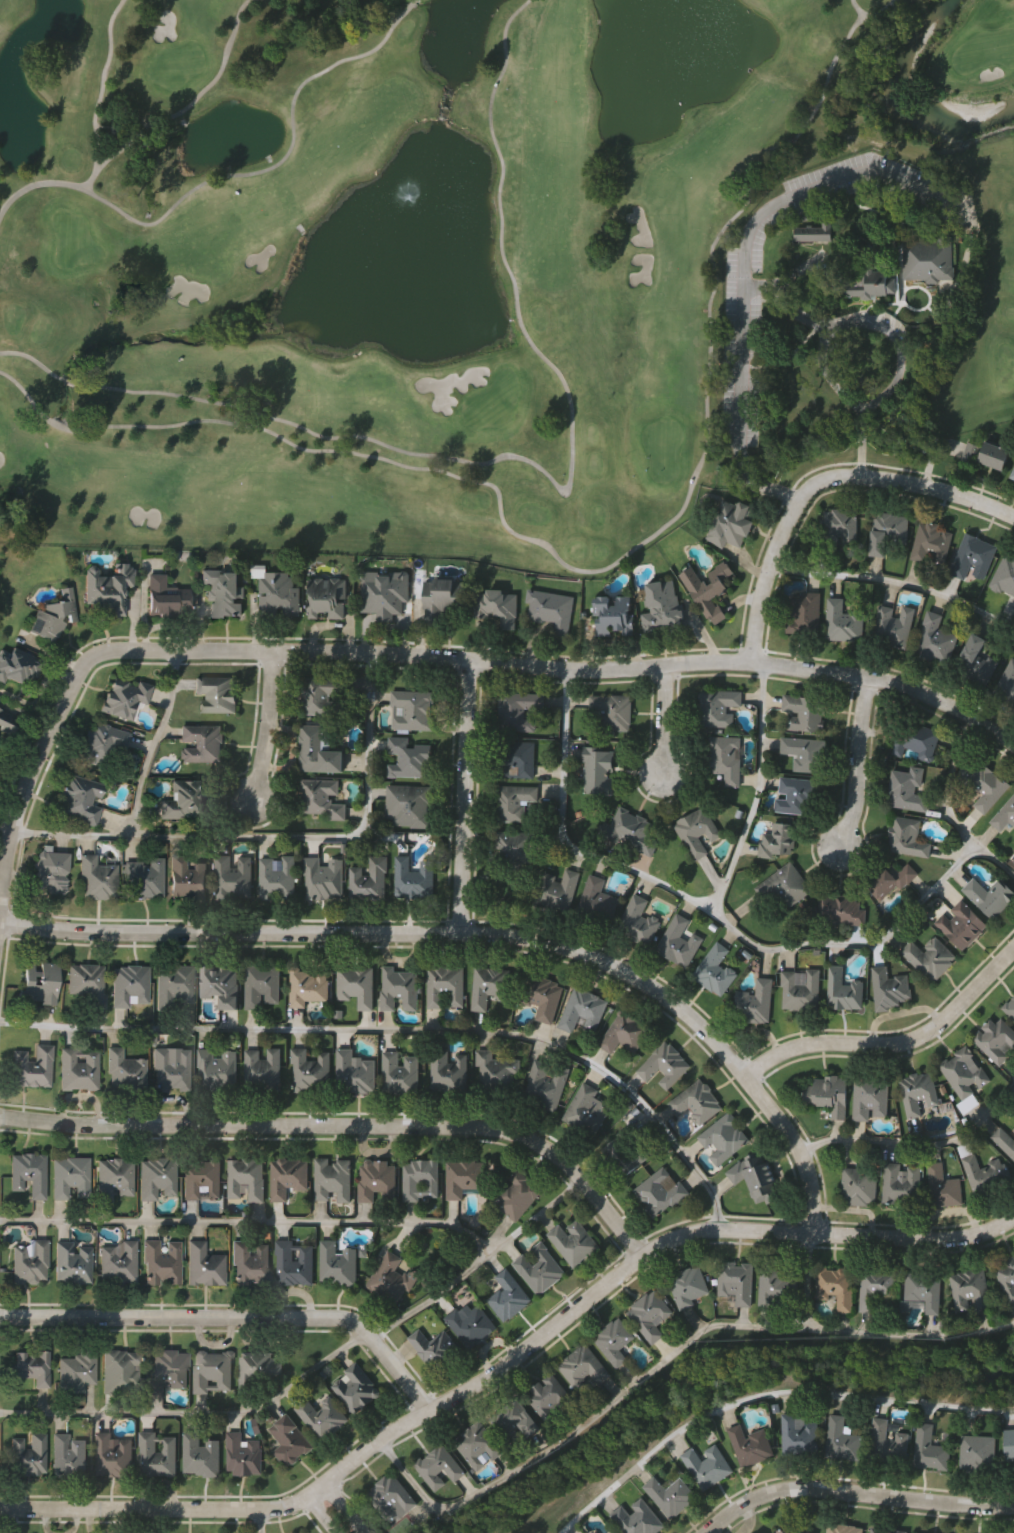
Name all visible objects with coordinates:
building: (119, 130)
road: (754, 218)
building: (816, 231)
building: (930, 260)
park: (486, 263)
building: (868, 285)
road: (861, 420)
building: (987, 453)
building: (1012, 474)
building: (1013, 479)
road: (821, 481)
building: (731, 523)
building: (839, 526)
building: (889, 530)
building: (932, 545)
building: (973, 556)
building: (1004, 576)
road: (895, 584)
building: (107, 588)
building: (709, 589)
building: (223, 592)
building: (385, 593)
building: (278, 595)
building: (166, 596)
building: (326, 597)
building: (442, 598)
building: (663, 606)
building: (497, 607)
building: (551, 610)
building: (804, 611)
building: (613, 614)
building: (52, 615)
building: (843, 620)
building: (894, 625)
building: (935, 639)
building: (975, 662)
building: (18, 667)
road: (569, 668)
building: (1006, 684)
building: (217, 693)
building: (326, 696)
building: (124, 698)
building: (718, 706)
building: (413, 708)
building: (519, 710)
building: (613, 711)
building: (805, 713)
road: (664, 719)
building: (7, 722)
road: (266, 727)
building: (1, 740)
building: (916, 740)
building: (103, 741)
building: (203, 742)
road: (151, 743)
road: (372, 746)
building: (318, 752)
building: (807, 754)
building: (517, 758)
building: (409, 759)
building: (726, 759)
road: (857, 764)
road: (33, 769)
building: (597, 769)
building: (986, 784)
building: (908, 788)
road: (758, 791)
building: (797, 794)
road: (465, 797)
building: (322, 798)
building: (80, 799)
building: (184, 799)
building: (515, 801)
building: (410, 804)
building: (1004, 815)
building: (631, 831)
building: (697, 832)
road: (237, 837)
building: (908, 837)
building: (779, 839)
building: (516, 847)
building: (49, 871)
building: (414, 877)
building: (96, 878)
building: (188, 878)
building: (145, 879)
building: (233, 879)
building: (277, 880)
building: (323, 880)
building: (371, 880)
building: (894, 880)
building: (785, 884)
building: (558, 890)
building: (990, 898)
building: (598, 901)
building: (840, 910)
road: (719, 920)
building: (639, 923)
building: (962, 925)
road: (484, 933)
building: (679, 943)
building: (931, 958)
building: (714, 971)
building: (86, 981)
building: (39, 983)
building: (175, 984)
building: (221, 985)
building: (357, 985)
building: (130, 986)
building: (263, 986)
building: (446, 986)
building: (490, 987)
building: (308, 988)
building: (890, 988)
building: (400, 989)
building: (845, 990)
building: (801, 991)
building: (542, 997)
building: (756, 1003)
building: (1009, 1008)
building: (583, 1011)
road: (405, 1033)
building: (624, 1033)
road: (892, 1041)
building: (996, 1041)
building: (665, 1065)
building: (32, 1066)
building: (218, 1068)
building: (78, 1069)
building: (172, 1069)
building: (264, 1069)
building: (125, 1070)
building: (312, 1070)
building: (496, 1070)
building: (965, 1071)
building: (355, 1072)
building: (401, 1072)
building: (449, 1072)
building: (546, 1084)
building: (918, 1091)
building: (830, 1096)
building: (871, 1096)
building: (696, 1102)
building: (588, 1110)
road: (347, 1125)
building: (726, 1138)
building: (1004, 1139)
road: (916, 1145)
building: (628, 1151)
building: (28, 1173)
building: (987, 1173)
building: (70, 1175)
building: (116, 1176)
building: (158, 1176)
building: (288, 1176)
building: (463, 1176)
building: (756, 1176)
building: (202, 1177)
building: (246, 1178)
building: (420, 1178)
building: (332, 1179)
building: (376, 1182)
building: (902, 1183)
building: (860, 1184)
building: (943, 1187)
building: (662, 1192)
building: (519, 1196)
road: (250, 1223)
building: (573, 1242)
building: (161, 1260)
building: (30, 1262)
building: (73, 1262)
building: (249, 1262)
building: (293, 1262)
building: (118, 1263)
building: (204, 1263)
road: (480, 1263)
building: (337, 1264)
building: (539, 1269)
building: (1006, 1276)
building: (391, 1279)
building: (737, 1280)
road: (809, 1281)
building: (688, 1285)
building: (778, 1286)
building: (835, 1287)
building: (877, 1287)
building: (924, 1289)
building: (970, 1289)
building: (509, 1296)
building: (649, 1314)
road: (235, 1316)
building: (471, 1325)
road: (909, 1335)
building: (614, 1340)
building: (435, 1348)
road: (509, 1362)
building: (31, 1366)
building: (585, 1366)
building: (77, 1369)
building: (120, 1369)
building: (168, 1369)
building: (257, 1369)
building: (212, 1370)
building: (357, 1388)
road: (766, 1396)
building: (552, 1398)
road: (198, 1414)
building: (322, 1417)
building: (515, 1420)
road: (580, 1432)
building: (799, 1437)
building: (289, 1439)
building: (842, 1440)
building: (479, 1444)
building: (887, 1444)
building: (1008, 1444)
building: (752, 1445)
building: (930, 1449)
building: (979, 1452)
building: (28, 1453)
building: (68, 1455)
building: (113, 1455)
building: (157, 1455)
building: (202, 1455)
building: (244, 1455)
building: (439, 1466)
building: (708, 1466)
road: (855, 1492)
building: (671, 1496)
building: (392, 1497)
road: (341, 1506)
road: (323, 1512)
building: (640, 1518)
road: (261, 1520)
building: (844, 1528)
building: (888, 1529)
building: (795, 1530)
building: (930, 1532)

